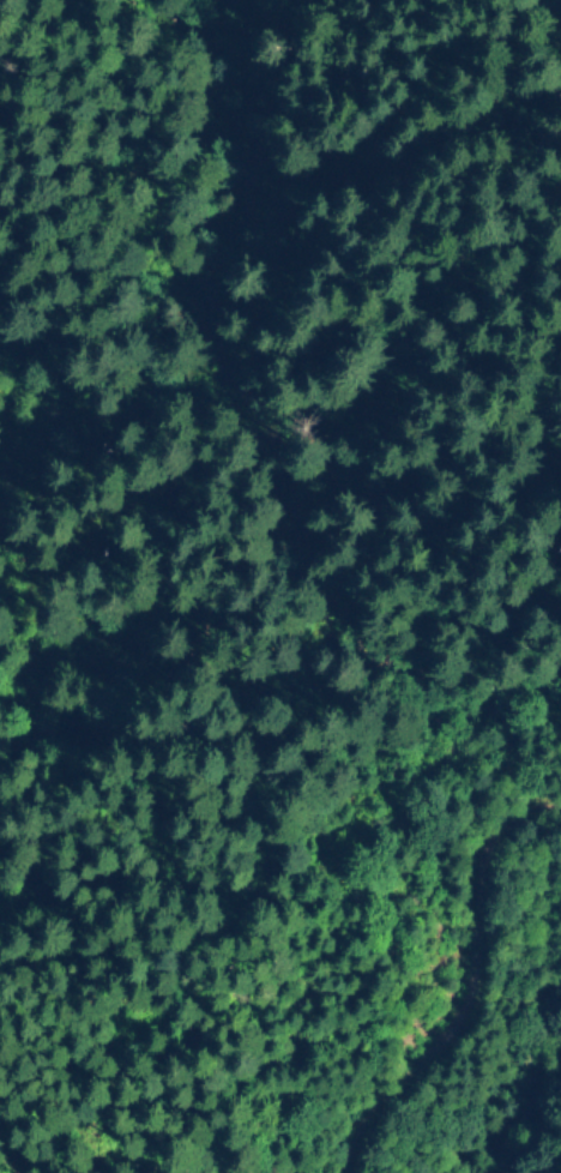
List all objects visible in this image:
road: (460, 973)

